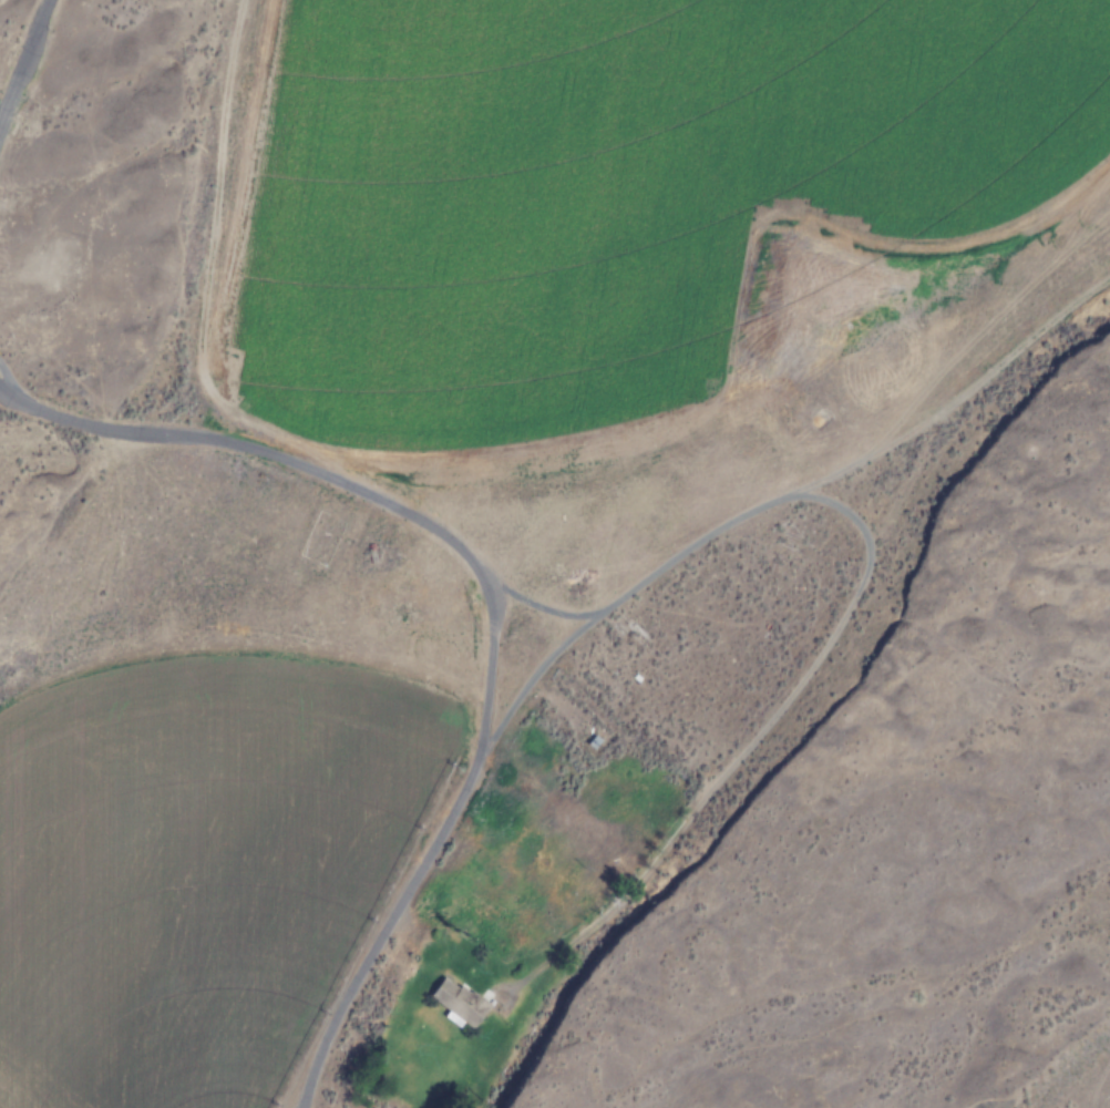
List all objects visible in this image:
road: (25, 61)
road: (479, 598)
building: (458, 1004)

